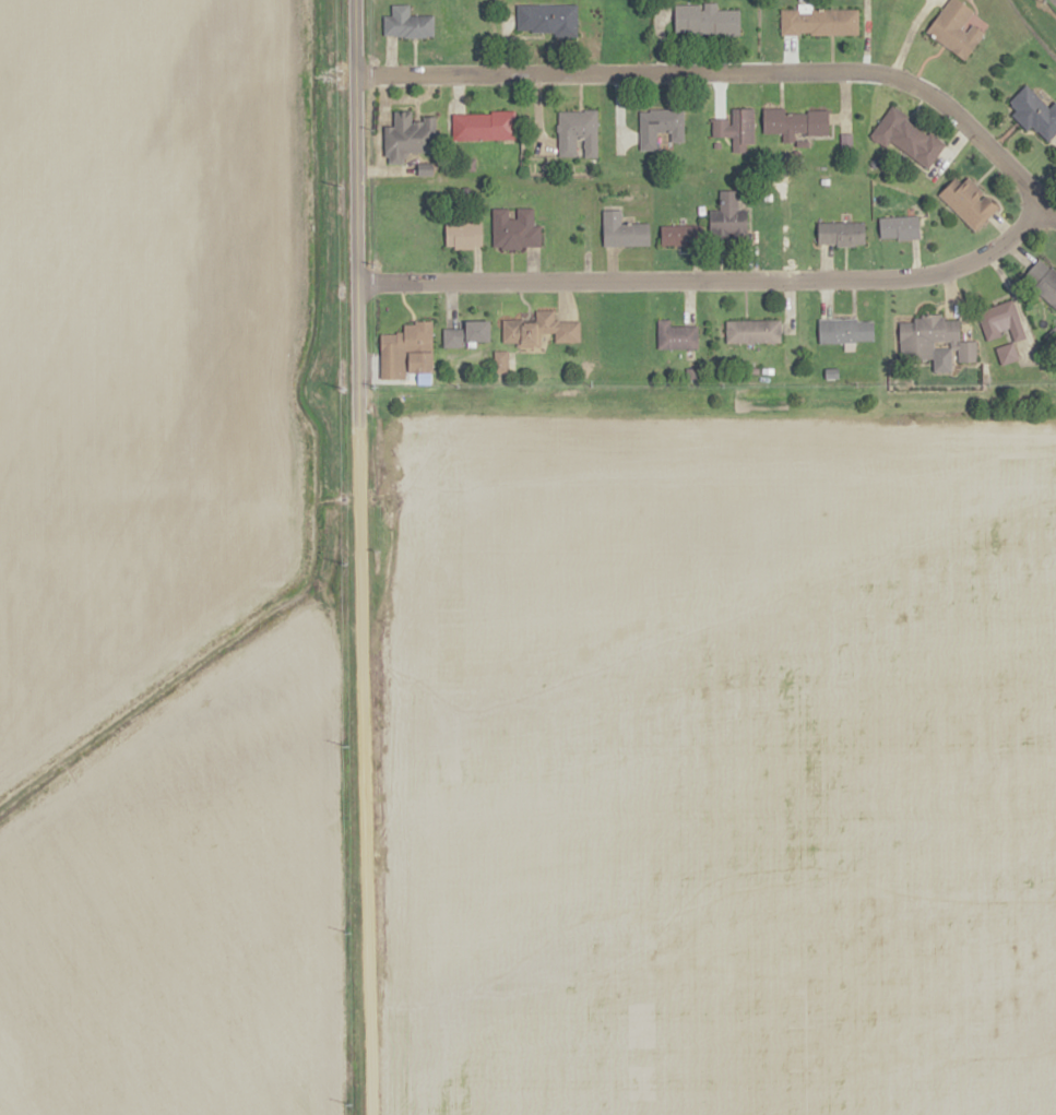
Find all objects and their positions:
building: (546, 19)
building: (705, 20)
building: (819, 21)
building: (407, 25)
building: (956, 28)
road: (728, 70)
building: (1033, 112)
building: (795, 121)
building: (483, 124)
building: (660, 126)
building: (736, 128)
building: (577, 132)
building: (407, 135)
building: (906, 135)
building: (969, 201)
building: (728, 217)
building: (899, 227)
building: (514, 228)
building: (622, 230)
building: (841, 233)
building: (463, 234)
building: (680, 234)
road: (707, 280)
building: (1043, 280)
building: (1000, 320)
building: (539, 329)
building: (845, 329)
building: (752, 330)
building: (467, 333)
building: (676, 335)
building: (933, 341)
building: (412, 344)
building: (1006, 353)
building: (500, 360)
road: (352, 557)

